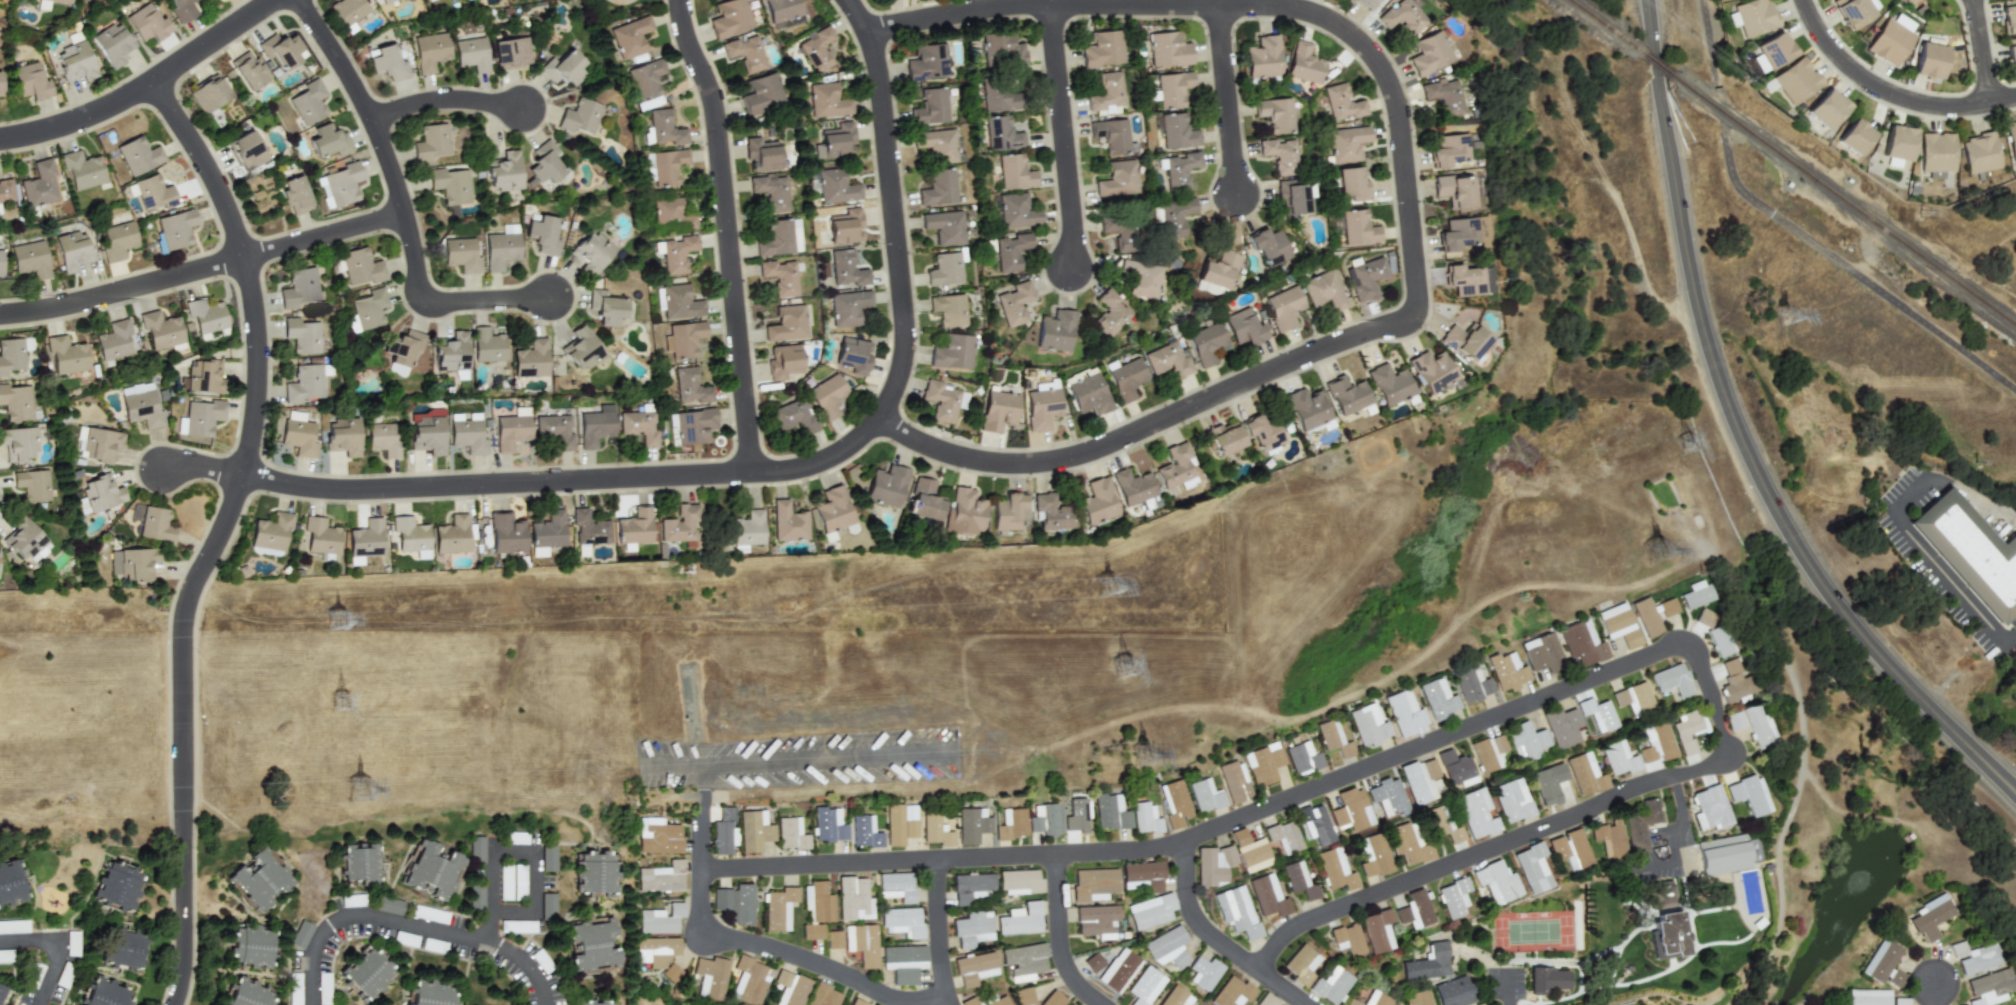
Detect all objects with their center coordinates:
building: (58, 1)
building: (385, 1)
building: (1367, 3)
building: (182, 9)
park: (622, 9)
building: (782, 11)
building: (347, 12)
building: (1853, 12)
building: (2009, 15)
building: (1403, 16)
building: (729, 17)
building: (1755, 17)
building: (147, 23)
railway: (1604, 27)
building: (630, 37)
building: (1890, 42)
road: (1710, 43)
building: (112, 44)
building: (1102, 48)
building: (817, 49)
building: (1168, 49)
building: (281, 50)
building: (1000, 50)
building: (430, 51)
building: (1773, 51)
building: (511, 52)
building: (744, 53)
building: (1430, 53)
road: (1983, 53)
building: (471, 54)
building: (2011, 54)
building: (1263, 57)
building: (1929, 60)
building: (75, 62)
building: (926, 62)
building: (387, 63)
building: (1305, 63)
railway: (1656, 64)
building: (563, 68)
building: (249, 70)
building: (1797, 80)
building: (30, 81)
building: (646, 82)
road: (144, 86)
building: (0, 88)
building: (1173, 89)
building: (1105, 92)
building: (761, 93)
road: (1889, 93)
building: (208, 94)
street lamp: (1864, 95)
building: (1443, 96)
building: (996, 97)
road: (445, 99)
road: (1224, 100)
road: (362, 101)
building: (827, 101)
building: (308, 102)
building: (1342, 103)
building: (930, 106)
building: (1828, 108)
building: (1276, 114)
building: (580, 117)
building: (665, 129)
building: (1177, 132)
building: (1001, 134)
road: (1061, 134)
building: (1110, 135)
street lamp: (1639, 135)
building: (1856, 137)
building: (2011, 138)
building: (329, 141)
building: (835, 141)
building: (430, 142)
building: (1899, 142)
building: (1347, 143)
building: (936, 144)
building: (246, 150)
building: (1449, 150)
building: (1937, 152)
building: (1980, 153)
building: (761, 154)
building: (138, 155)
building: (1280, 155)
building: (545, 163)
building: (667, 166)
building: (82, 170)
building: (1180, 170)
building: (504, 172)
building: (1014, 172)
building: (1117, 179)
building: (343, 183)
building: (1352, 183)
building: (39, 185)
building: (450, 185)
building: (836, 186)
building: (939, 188)
building: (1455, 190)
building: (6, 191)
building: (771, 191)
building: (154, 193)
building: (295, 196)
building: (1292, 197)
railway: (1842, 200)
road: (1406, 206)
building: (1016, 211)
building: (672, 213)
building: (0, 214)
building: (1174, 216)
building: (845, 226)
building: (944, 227)
building: (1358, 228)
building: (176, 229)
park: (1986, 230)
building: (1117, 231)
road: (726, 233)
building: (543, 234)
building: (1457, 234)
road: (324, 235)
building: (780, 238)
building: (117, 240)
building: (1268, 246)
building: (501, 247)
building: (72, 250)
building: (1009, 251)
building: (592, 252)
building: (677, 254)
building: (461, 255)
building: (29, 258)
building: (0, 263)
building: (360, 267)
building: (847, 269)
building: (945, 269)
building: (1218, 270)
road: (1638, 271)
road: (1854, 274)
building: (780, 276)
building: (1140, 277)
building: (1365, 277)
building: (1467, 280)
building: (298, 288)
road: (122, 289)
building: (1322, 290)
road: (441, 300)
building: (680, 302)
building: (1014, 303)
building: (605, 307)
building: (848, 307)
building: (1283, 307)
building: (369, 308)
building: (948, 309)
building: (1109, 314)
building: (205, 315)
power tower: (1781, 317)
building: (786, 324)
building: (1243, 327)
building: (161, 330)
building: (1055, 331)
building: (301, 335)
building: (684, 338)
building: (114, 340)
building: (1205, 342)
building: (1466, 342)
building: (487, 345)
building: (403, 347)
building: (582, 349)
building: (952, 351)
building: (451, 352)
building: (11, 355)
building: (66, 355)
building: (853, 355)
building: (531, 359)
building: (1168, 359)
building: (783, 361)
street lamp: (1683, 362)
building: (396, 369)
building: (1432, 370)
building: (205, 376)
building: (1126, 379)
building: (304, 383)
building: (1390, 384)
building: (690, 386)
building: (1088, 395)
building: (1347, 395)
building: (827, 396)
building: (944, 400)
building: (16, 402)
building: (140, 405)
building: (1042, 405)
building: (1307, 408)
building: (998, 410)
building: (794, 415)
building: (200, 418)
building: (596, 426)
building: (692, 426)
building: (638, 427)
building: (512, 429)
building: (555, 430)
building: (427, 432)
building: (298, 434)
building: (1262, 434)
building: (343, 436)
building: (467, 436)
building: (1223, 438)
building: (383, 439)
road: (1742, 439)
building: (19, 443)
building: (96, 443)
power tower: (1681, 443)
building: (1176, 465)
road: (204, 469)
road: (784, 470)
building: (32, 484)
building: (887, 486)
building: (1134, 487)
building: (101, 493)
building: (925, 500)
building: (1098, 501)
building: (832, 509)
building: (1009, 512)
building: (1052, 512)
building: (965, 513)
building: (787, 522)
building: (153, 523)
building: (679, 524)
building: (634, 526)
building: (589, 528)
building: (747, 528)
building: (548, 530)
building: (272, 531)
street lamp: (1752, 531)
road: (224, 533)
building: (506, 533)
building: (410, 534)
building: (452, 535)
building: (321, 536)
building: (367, 538)
building: (25, 539)
power tower: (1657, 550)
building: (1972, 552)
building: (132, 563)
road: (1933, 565)
power tower: (1107, 585)
building: (1692, 594)
building: (1664, 607)
building: (1643, 617)
building: (1701, 617)
power tower: (339, 625)
building: (1616, 625)
building: (1716, 640)
building: (1580, 643)
building: (1540, 653)
power tower: (1125, 668)
building: (1505, 671)
building: (1668, 680)
street lamp: (1862, 680)
building: (1730, 681)
building: (1471, 684)
building: (1631, 698)
building: (1437, 699)
power tower: (342, 708)
building: (1404, 712)
road: (1508, 712)
building: (1596, 714)
building: (1730, 720)
building: (1367, 725)
building: (1753, 725)
building: (1560, 726)
building: (1683, 730)
building: (1333, 738)
building: (1525, 741)
building: (1652, 742)
building: (1488, 752)
power tower: (1145, 754)
building: (1614, 758)
road: (801, 762)
building: (1262, 764)
building: (1456, 768)
building: (1581, 774)
building: (1420, 780)
building: (1233, 781)
building: (1541, 786)
road: (707, 793)
power tower: (363, 794)
building: (1744, 794)
building: (1205, 795)
building: (1388, 797)
building: (1510, 800)
building: (1175, 803)
building: (1706, 808)
building: (1351, 809)
building: (1110, 812)
building: (1474, 813)
building: (1075, 815)
building: (1144, 818)
building: (1046, 819)
building: (900, 823)
building: (1011, 824)
building: (1442, 824)
building: (828, 825)
building: (972, 825)
building: (1314, 825)
building: (1636, 825)
building: (935, 829)
building: (754, 830)
building: (723, 831)
building: (864, 832)
building: (791, 833)
building: (657, 836)
building: (1284, 836)
road: (1669, 837)
building: (1605, 838)
building: (1406, 843)
building: (1567, 849)
building: (481, 850)
building: (1748, 850)
building: (1250, 851)
road: (521, 853)
building: (1372, 855)
building: (1717, 855)
building: (552, 858)
building: (363, 863)
building: (1213, 864)
building: (1530, 867)
building: (1334, 869)
building: (437, 870)
building: (600, 871)
building: (1144, 874)
building: (264, 876)
building: (661, 877)
building: (1298, 880)
building: (1018, 881)
building: (1495, 882)
building: (121, 884)
building: (1094, 884)
building: (11, 886)
building: (896, 886)
building: (971, 887)
building: (480, 896)
building: (1267, 896)
building: (1452, 897)
building: (853, 899)
building: (735, 902)
building: (819, 902)
building: (393, 905)
building: (552, 906)
building: (779, 908)
building: (1413, 910)
building: (1150, 911)
building: (1236, 911)
building: (1926, 917)
building: (661, 919)
building: (1020, 919)
building: (1096, 919)
building: (902, 921)
road: (413, 924)
building: (972, 928)
building: (1376, 930)
building: (812, 931)
building: (304, 933)
road: (940, 933)
building: (1108, 934)
building: (1663, 936)
road: (1060, 937)
building: (834, 939)
road: (1216, 939)
building: (1346, 939)
building: (256, 943)
building: (862, 943)
building: (596, 944)
building: (128, 946)
building: (1167, 947)
building: (657, 949)
road: (773, 949)
road: (58, 950)
building: (1971, 957)
building: (1024, 961)
building: (903, 962)
building: (1093, 962)
building: (1425, 963)
building: (1880, 963)
building: (1299, 964)
road: (1493, 965)
building: (974, 968)
building: (1117, 969)
building: (1626, 970)
building: (372, 971)
building: (1203, 972)
building: (712, 973)
building: (1543, 979)
building: (748, 980)
building: (1329, 985)
building: (1145, 986)
building: (789, 988)
building: (1986, 988)
building: (5, 991)
building: (1450, 991)
building: (108, 992)
building: (251, 992)
building: (435, 992)
building: (1230, 992)
road: (1934, 993)
building: (823, 995)
building: (1175, 997)
building: (1865, 997)
building: (1414, 998)
building: (1053, 999)
building: (1373, 999)
building: (1264, 1000)
building: (985, 1001)
building: (1897, 1001)
building: (602, 1002)
building: (857, 1002)
building: (1349, 1002)
building: (1071, 1004)

